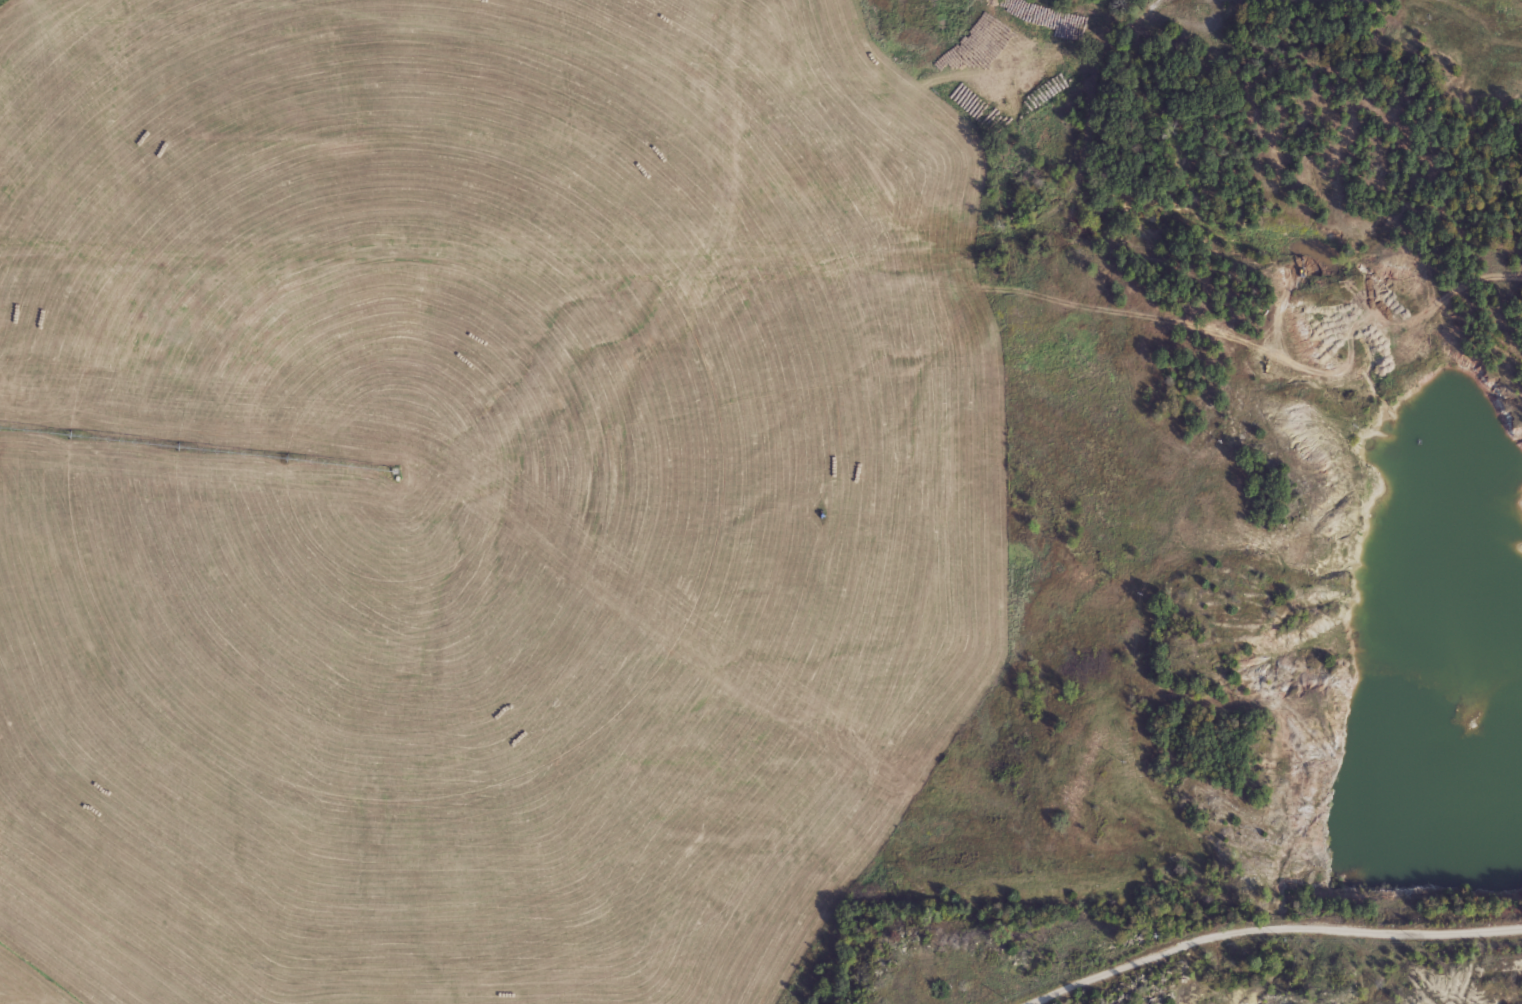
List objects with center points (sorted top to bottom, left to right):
road: (1272, 929)

